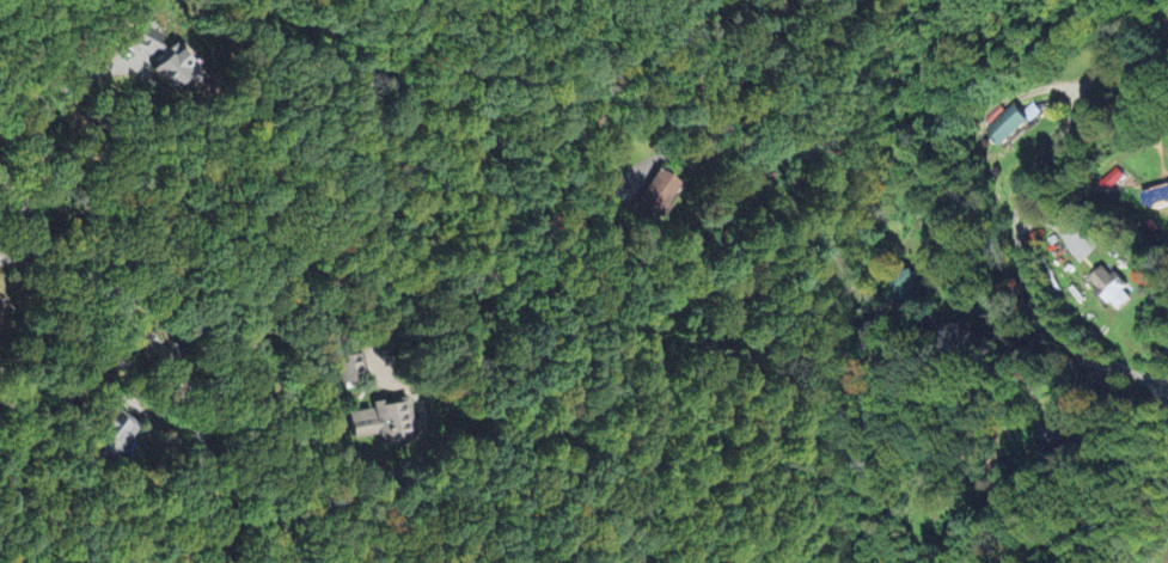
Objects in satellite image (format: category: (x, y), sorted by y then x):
building: (159, 55)
road: (47, 108)
building: (1027, 111)
building: (1002, 126)
building: (1106, 179)
building: (1158, 195)
road: (1010, 204)
road: (45, 274)
building: (1106, 287)
building: (899, 288)
building: (2, 310)
road: (782, 324)
road: (161, 345)
road: (1158, 360)
building: (355, 367)
road: (63, 409)
building: (381, 420)
building: (1047, 430)
building: (110, 433)
road: (1052, 445)
road: (423, 459)

